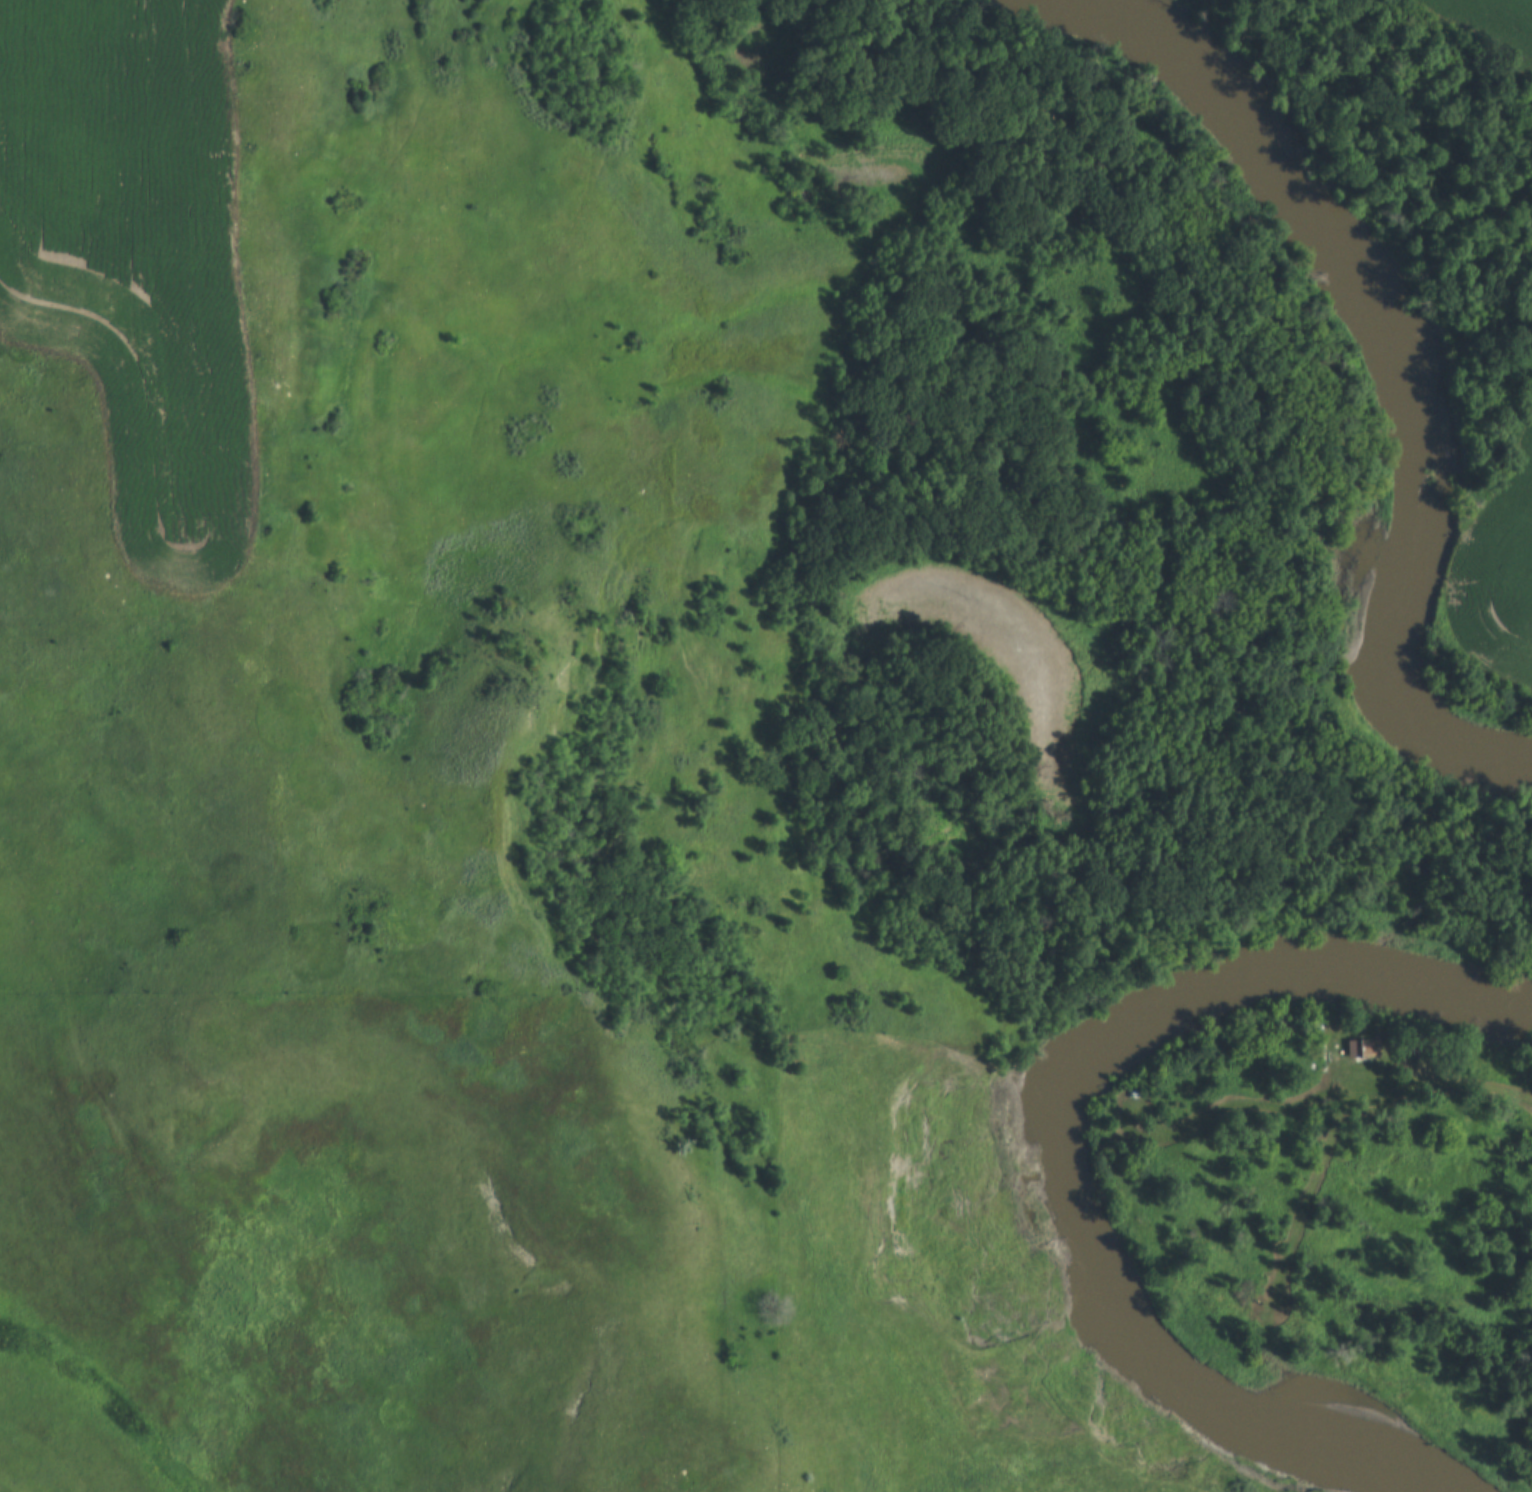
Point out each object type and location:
river: (1412, 346)
building: (1361, 1050)
river: (1079, 1146)

